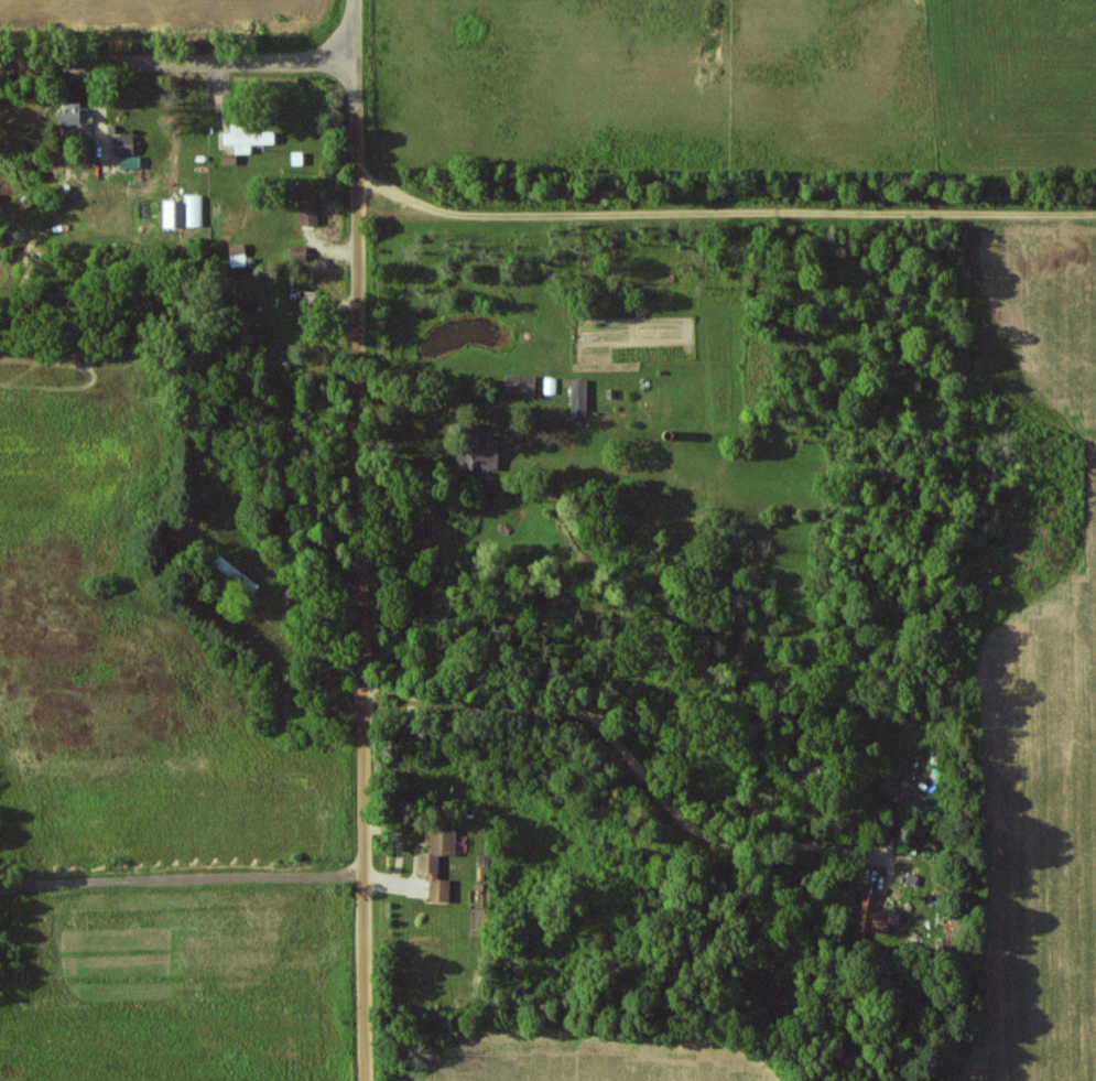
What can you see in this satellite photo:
road: (177, 66)
building: (225, 102)
building: (78, 119)
building: (124, 145)
building: (185, 212)
building: (308, 212)
building: (238, 255)
building: (521, 383)
building: (580, 397)
building: (478, 458)
road: (357, 540)
road: (641, 785)
building: (438, 863)
road: (181, 878)
building: (879, 916)

